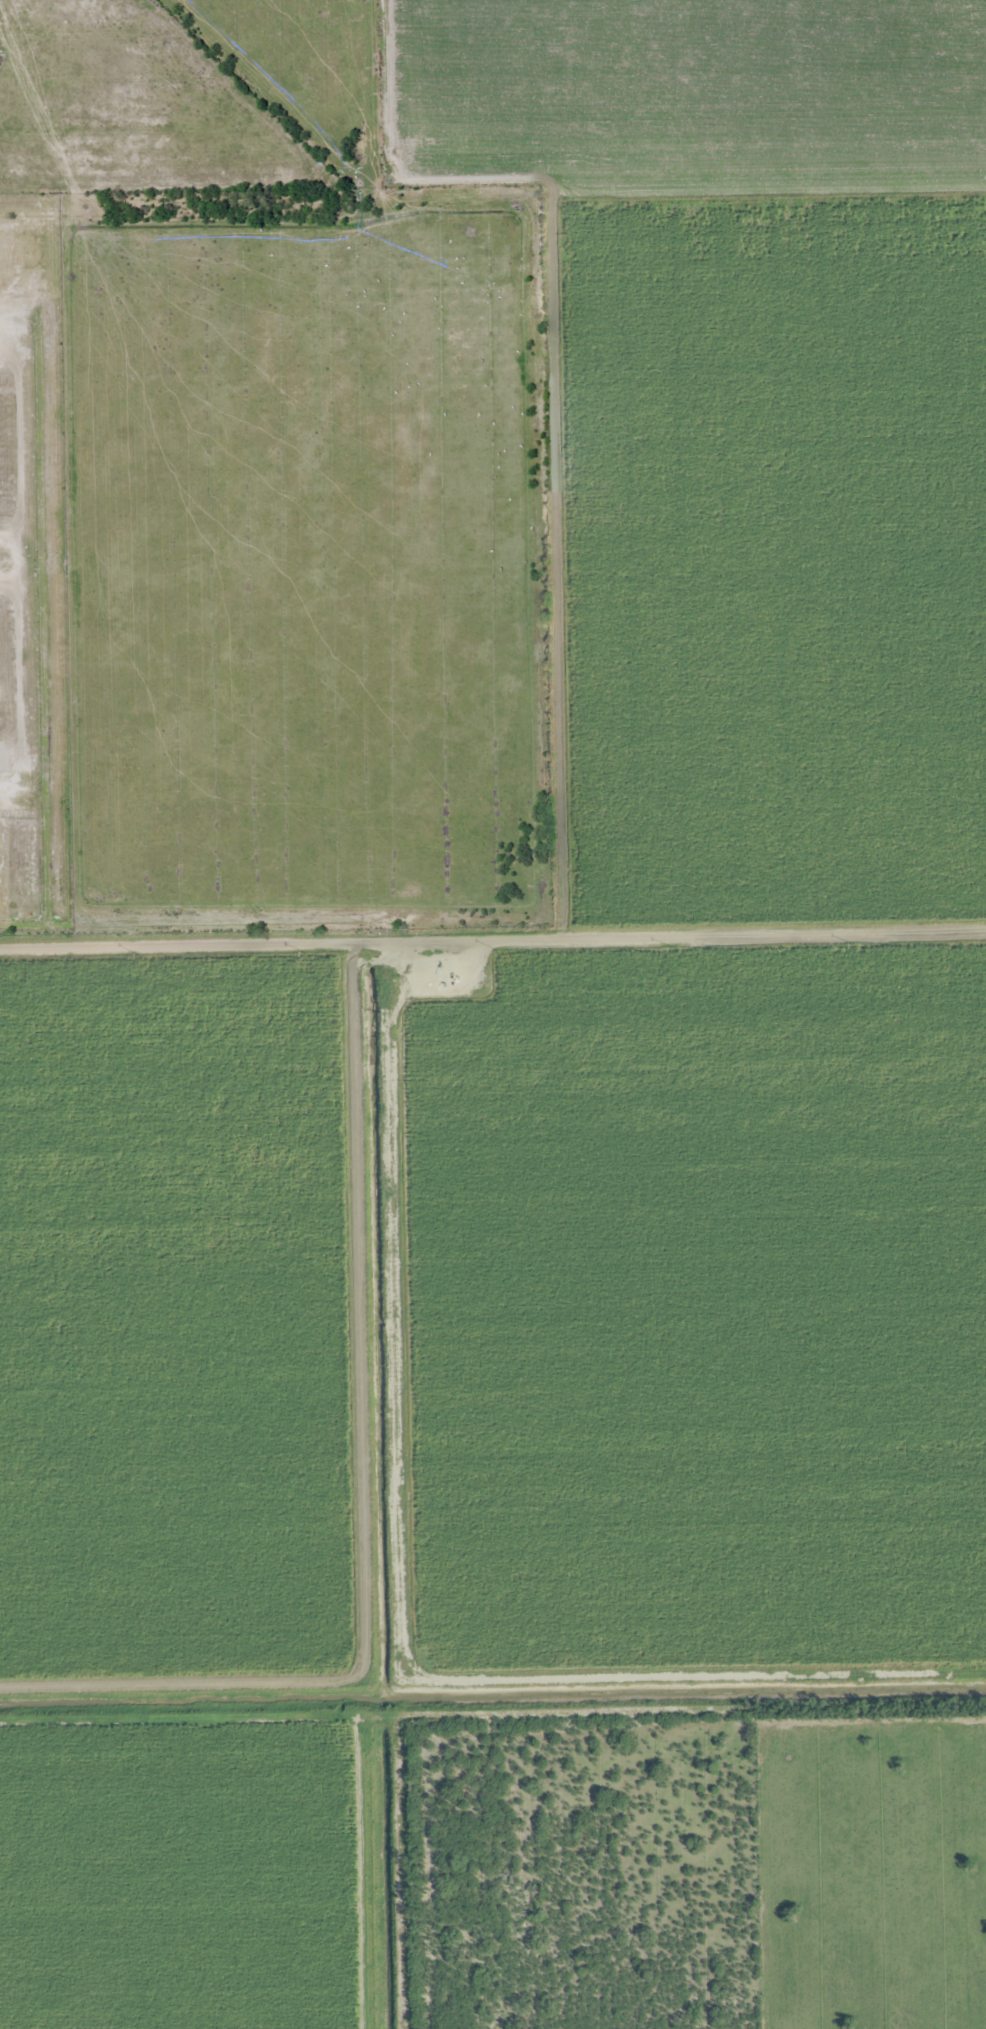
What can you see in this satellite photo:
road: (2, 322)
road: (2, 788)
road: (493, 943)

